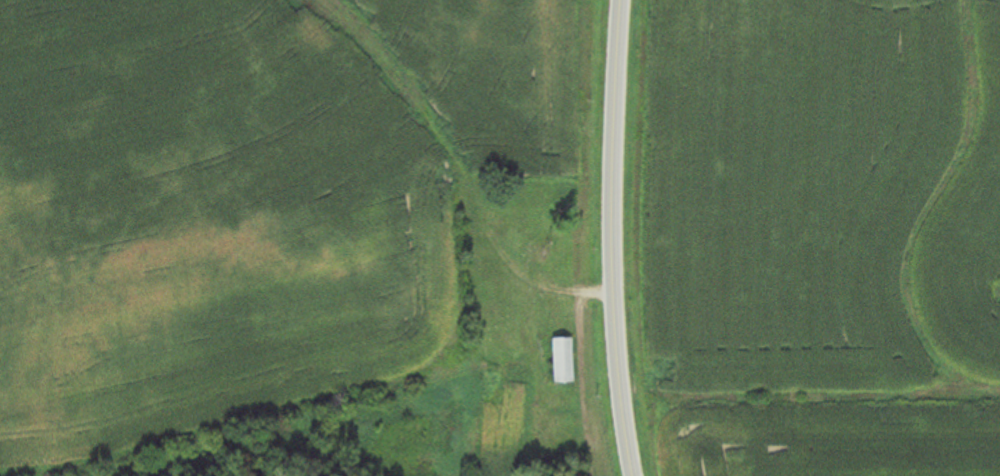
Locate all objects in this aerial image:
road: (609, 238)
building: (557, 362)

